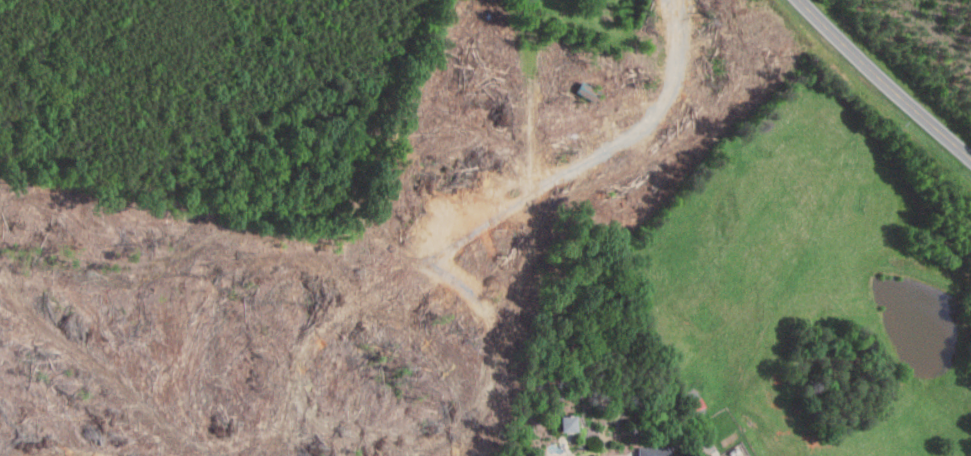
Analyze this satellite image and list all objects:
road: (884, 81)
building: (572, 423)
building: (655, 451)

